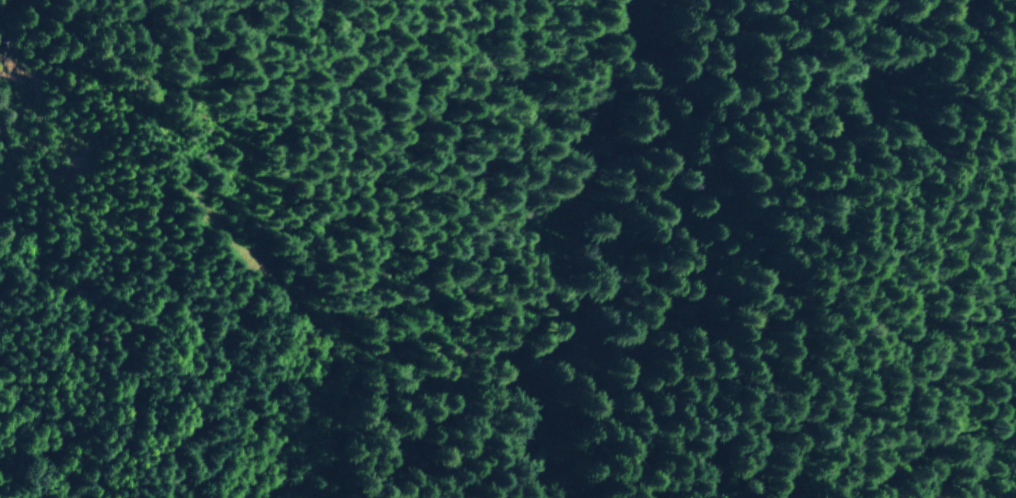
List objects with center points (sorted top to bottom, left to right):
road: (303, 399)

